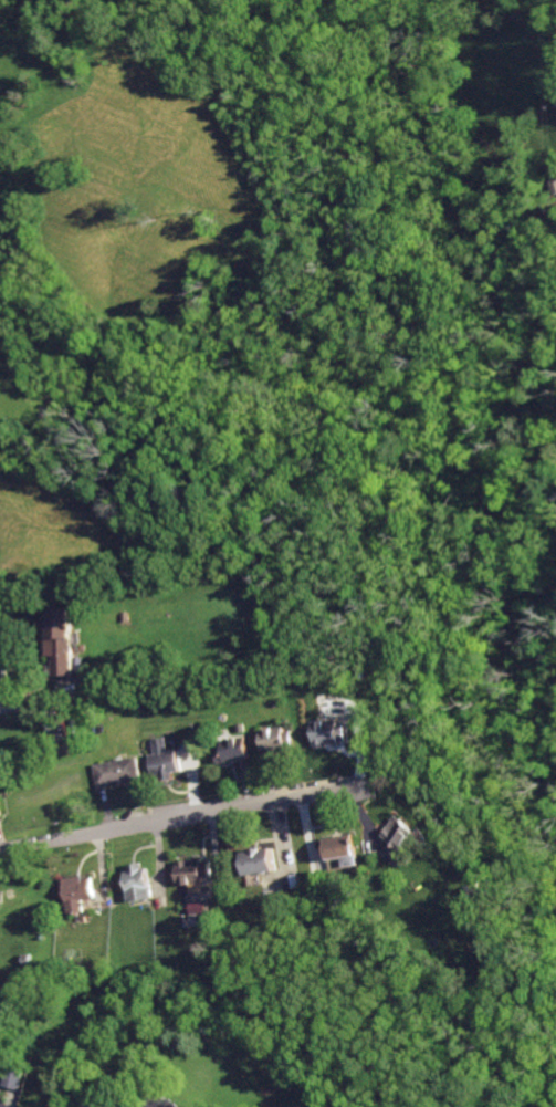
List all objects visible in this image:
building: (57, 639)
building: (10, 678)
road: (42, 699)
building: (328, 730)
building: (274, 740)
building: (229, 748)
building: (166, 760)
building: (115, 773)
building: (2, 797)
road: (179, 818)
building: (400, 833)
building: (337, 846)
building: (255, 860)
building: (192, 867)
building: (136, 884)
building: (74, 892)
building: (19, 1079)
building: (95, 1105)

